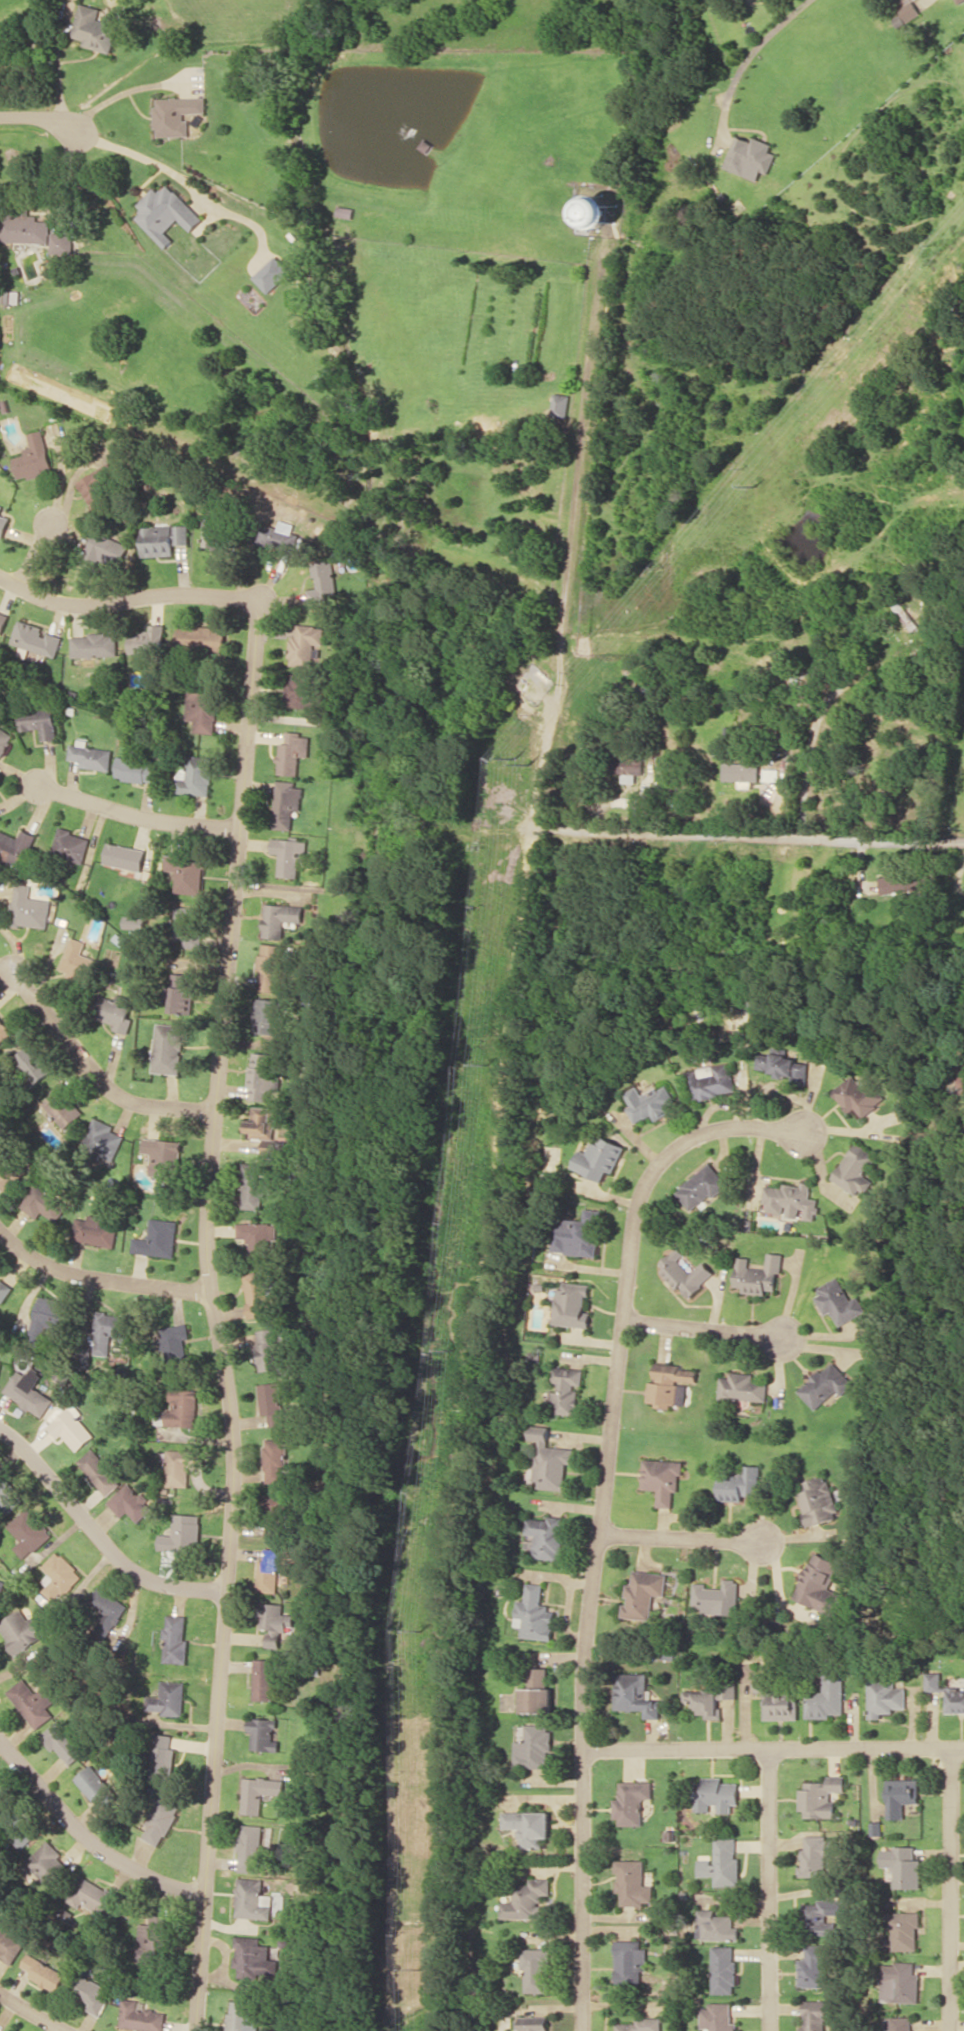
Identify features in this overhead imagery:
building: (959, 1)
building: (906, 13)
building: (96, 28)
building: (177, 114)
road: (37, 118)
building: (749, 155)
building: (600, 212)
building: (167, 213)
water tower: (596, 213)
building: (23, 225)
building: (62, 242)
building: (272, 273)
building: (12, 296)
building: (560, 405)
building: (34, 456)
power tower: (757, 485)
building: (100, 486)
building: (3, 522)
building: (213, 530)
building: (278, 537)
building: (163, 538)
building: (108, 550)
road: (36, 552)
building: (324, 583)
road: (125, 599)
building: (3, 620)
building: (202, 637)
building: (36, 638)
building: (149, 640)
building: (96, 644)
building: (306, 644)
building: (302, 692)
building: (203, 707)
building: (39, 721)
building: (4, 739)
building: (293, 752)
building: (91, 755)
power tower: (520, 758)
building: (626, 764)
building: (138, 770)
building: (742, 772)
building: (196, 776)
building: (287, 803)
road: (137, 815)
road: (745, 838)
building: (70, 845)
building: (16, 846)
building: (289, 855)
building: (124, 856)
building: (187, 872)
building: (905, 881)
building: (29, 908)
building: (280, 918)
building: (134, 922)
building: (186, 925)
building: (78, 959)
building: (271, 967)
building: (182, 992)
building: (743, 1002)
building: (118, 1012)
building: (267, 1014)
building: (4, 1031)
building: (169, 1048)
power tower: (485, 1060)
building: (36, 1062)
building: (783, 1066)
road: (97, 1072)
building: (264, 1074)
building: (711, 1081)
building: (858, 1094)
building: (650, 1102)
building: (64, 1107)
building: (264, 1127)
building: (105, 1139)
building: (599, 1157)
building: (163, 1158)
building: (11, 1167)
building: (856, 1169)
building: (254, 1184)
building: (701, 1186)
building: (792, 1200)
building: (44, 1202)
building: (95, 1230)
building: (577, 1234)
building: (258, 1236)
building: (158, 1238)
building: (685, 1272)
building: (759, 1274)
road: (98, 1278)
building: (4, 1289)
building: (258, 1292)
building: (839, 1301)
building: (571, 1304)
road: (213, 1316)
building: (46, 1317)
road: (702, 1328)
building: (109, 1331)
building: (175, 1341)
power tower: (452, 1346)
building: (269, 1349)
building: (85, 1356)
building: (0, 1363)
building: (825, 1384)
building: (671, 1385)
building: (742, 1387)
building: (566, 1389)
building: (28, 1391)
building: (272, 1402)
building: (181, 1407)
building: (71, 1427)
building: (276, 1459)
building: (550, 1460)
building: (182, 1465)
building: (99, 1471)
building: (662, 1478)
building: (740, 1484)
building: (8, 1496)
building: (817, 1500)
building: (130, 1502)
building: (276, 1514)
road: (599, 1515)
building: (29, 1532)
building: (182, 1533)
road: (681, 1535)
road: (97, 1536)
building: (546, 1536)
building: (268, 1571)
building: (60, 1576)
building: (819, 1584)
building: (1, 1586)
building: (644, 1593)
building: (716, 1597)
building: (110, 1611)
building: (275, 1622)
power tower: (419, 1629)
building: (22, 1630)
building: (177, 1639)
building: (264, 1679)
building: (933, 1681)
building: (728, 1687)
building: (537, 1692)
building: (636, 1694)
building: (826, 1697)
building: (885, 1697)
building: (170, 1698)
building: (955, 1699)
building: (33, 1702)
building: (703, 1702)
building: (777, 1703)
building: (265, 1734)
building: (63, 1741)
building: (533, 1747)
road: (773, 1749)
building: (162, 1757)
building: (96, 1785)
building: (260, 1792)
building: (1, 1794)
building: (716, 1794)
building: (901, 1795)
building: (821, 1796)
building: (632, 1801)
building: (161, 1821)
building: (529, 1826)
building: (17, 1829)
road: (88, 1835)
building: (252, 1848)
building: (816, 1855)
building: (48, 1862)
building: (723, 1863)
building: (903, 1866)
building: (632, 1882)
road: (954, 1888)
road: (773, 1890)
building: (92, 1894)
building: (253, 1899)
building: (526, 1899)
building: (823, 1915)
building: (716, 1925)
building: (904, 1930)
building: (152, 1935)
building: (10, 1945)
building: (253, 1957)
building: (630, 1962)
building: (816, 1964)
building: (535, 1968)
power tower: (421, 1969)
building: (724, 1969)
building: (43, 1972)
building: (901, 1981)
building: (91, 1994)
road: (30, 2014)
building: (815, 2014)
building: (141, 2016)
building: (243, 2016)
building: (718, 2017)
building: (531, 2023)
building: (901, 2023)
building: (642, 2024)

